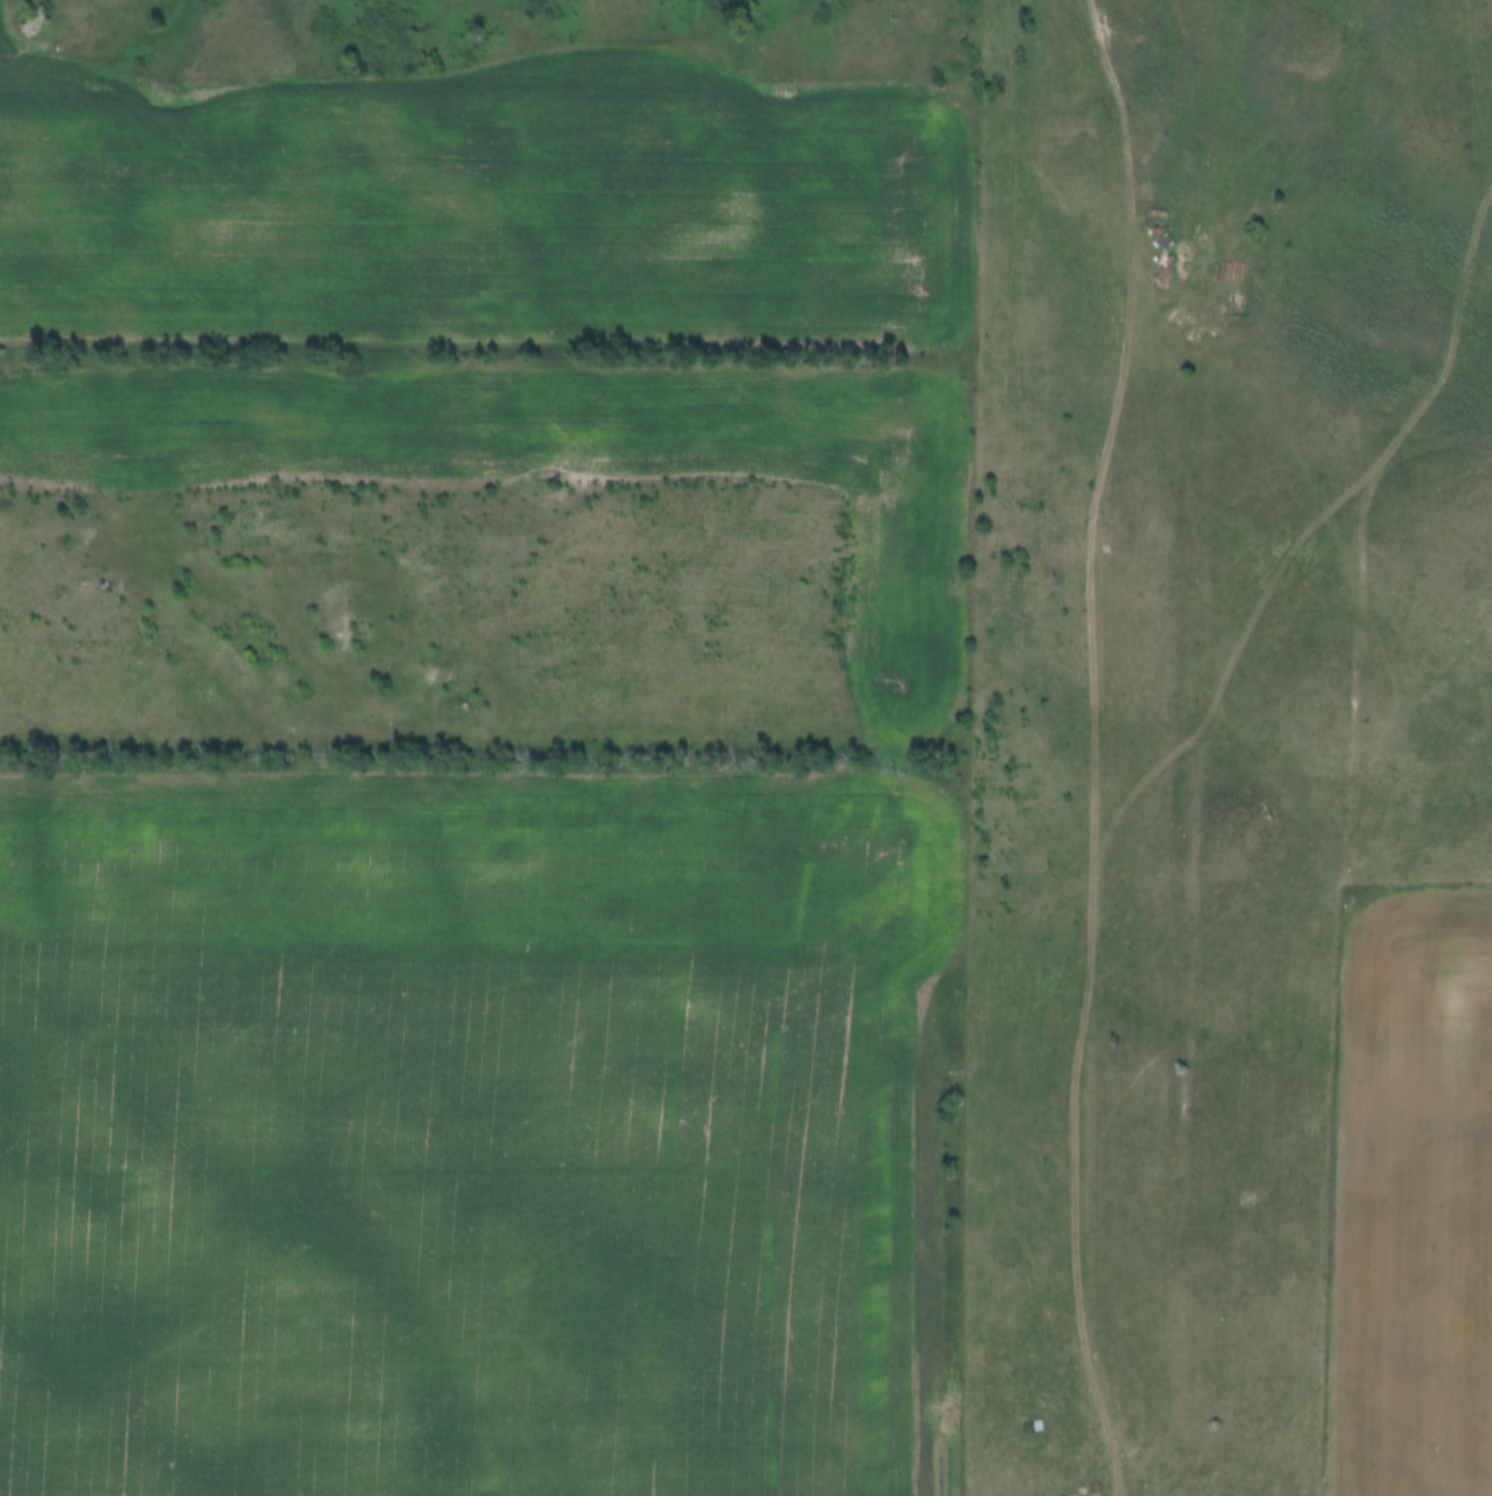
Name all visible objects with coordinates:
road: (1097, 745)

